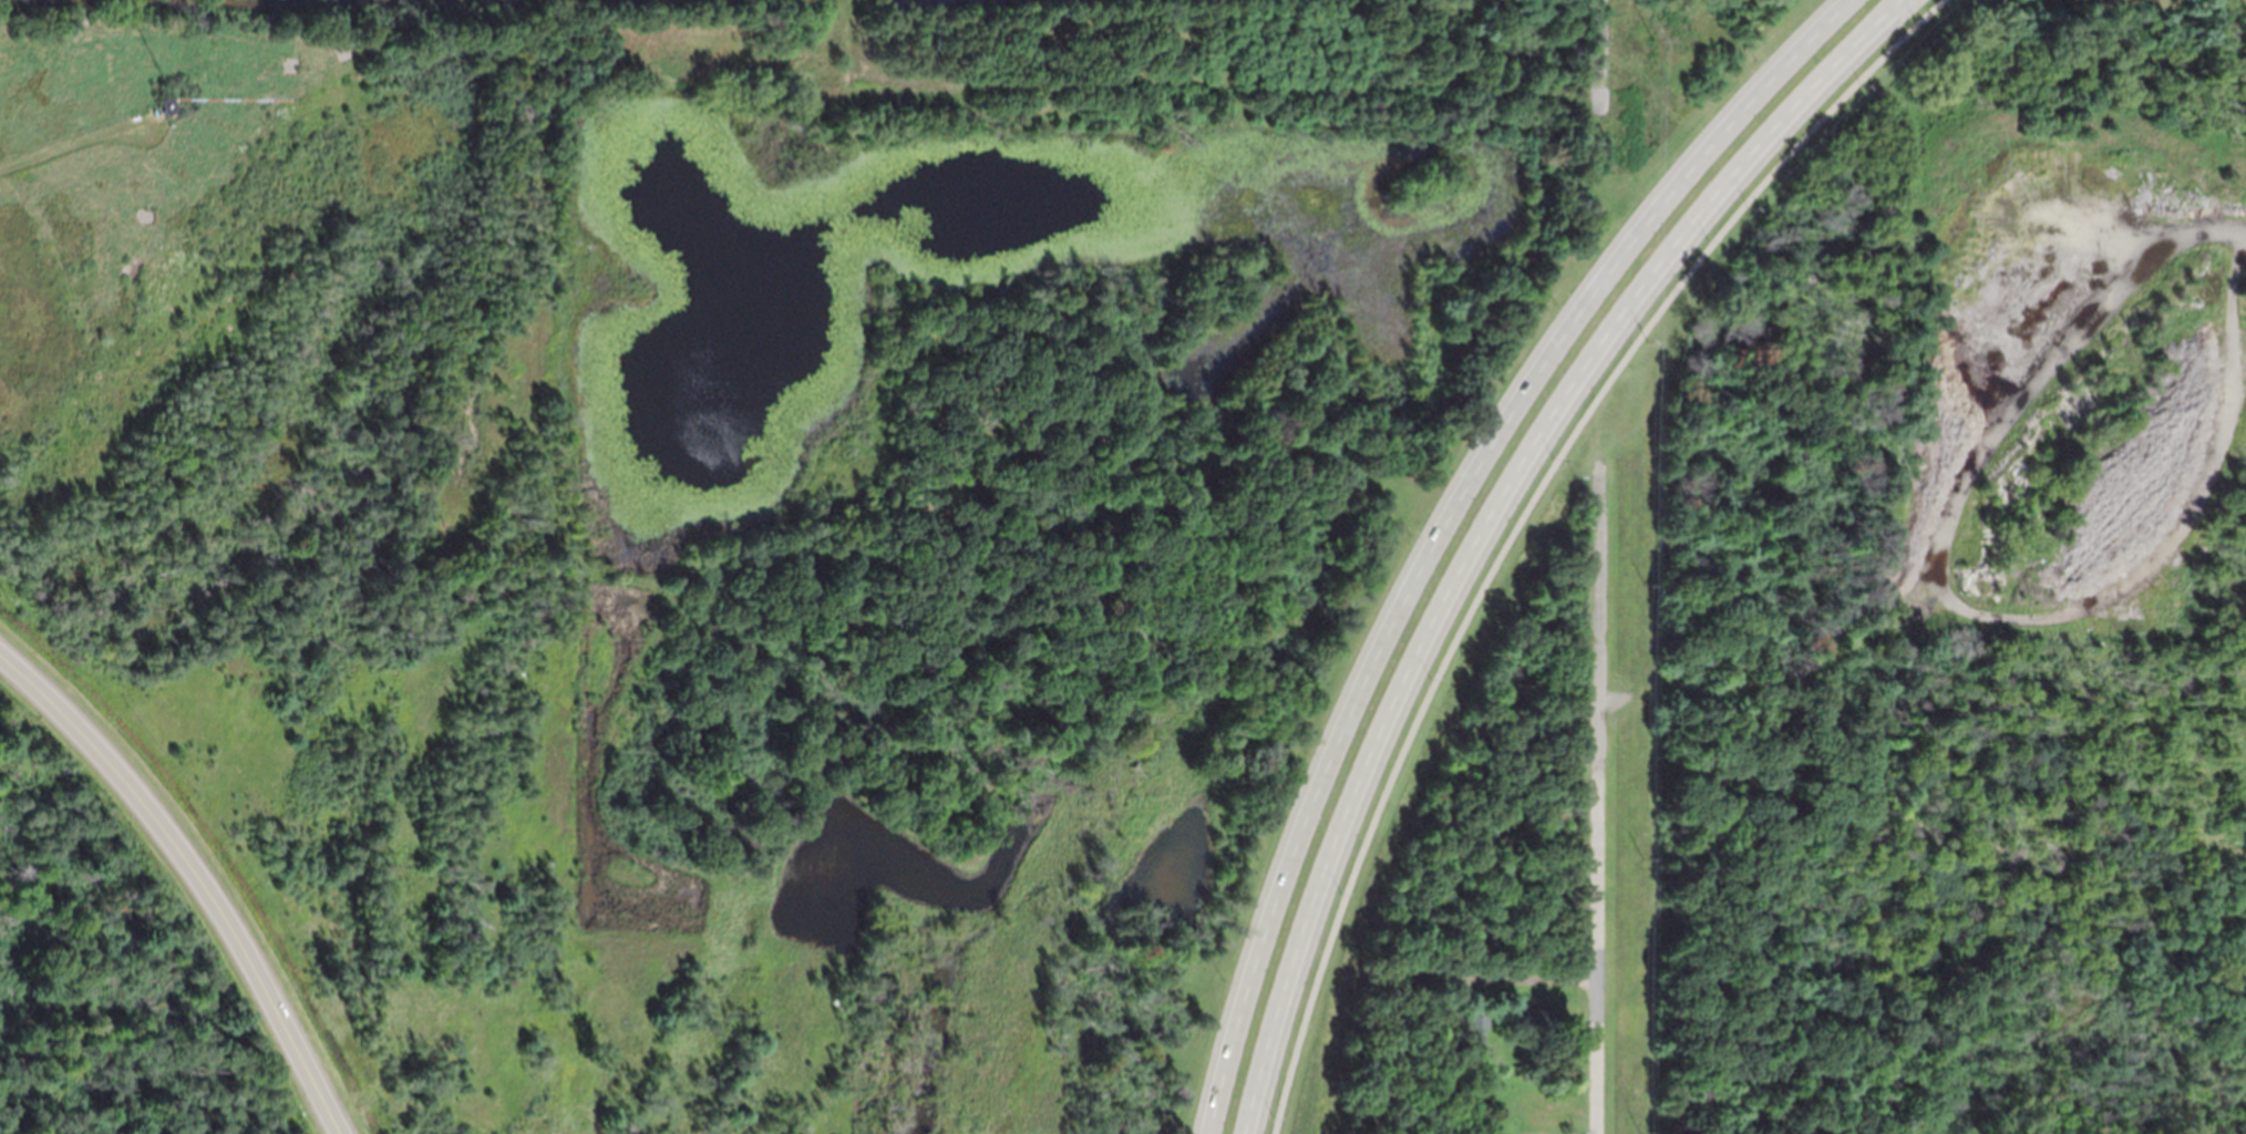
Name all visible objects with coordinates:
road: (1597, 56)
building: (168, 104)
road: (1523, 516)
road: (1485, 518)
road: (1444, 519)
road: (1595, 798)
road: (199, 873)
road: (1515, 977)
building: (1535, 1016)
building: (1477, 1017)
building: (1480, 1040)

